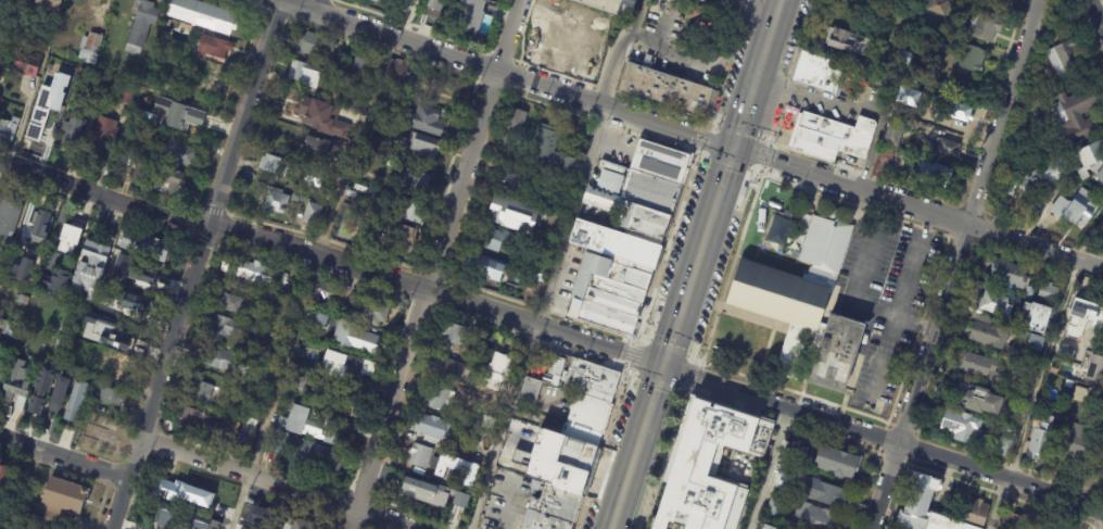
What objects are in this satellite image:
building: (97, 1)
building: (375, 1)
road: (1034, 1)
road: (292, 2)
building: (404, 2)
building: (608, 4)
parking garage: (608, 4)
building: (49, 5)
road: (312, 5)
building: (937, 7)
building: (433, 8)
road: (745, 10)
road: (1094, 13)
building: (203, 16)
building: (130, 18)
building: (470, 20)
building: (167, 23)
building: (141, 26)
building: (986, 26)
road: (772, 30)
building: (578, 32)
building: (927, 32)
building: (71, 33)
building: (846, 41)
building: (214, 47)
building: (317, 47)
building: (90, 48)
building: (55, 49)
building: (64, 51)
building: (905, 59)
building: (968, 59)
building: (1065, 59)
building: (365, 61)
building: (111, 64)
building: (25, 68)
road: (504, 71)
building: (817, 71)
building: (397, 73)
building: (305, 75)
building: (913, 75)
building: (136, 79)
building: (94, 84)
building: (78, 85)
building: (662, 89)
building: (852, 89)
building: (334, 95)
building: (128, 96)
building: (417, 97)
building: (911, 99)
road: (816, 100)
road: (747, 103)
building: (390, 104)
building: (962, 113)
building: (1077, 114)
building: (321, 117)
building: (423, 119)
building: (186, 125)
building: (132, 126)
building: (514, 127)
building: (73, 129)
building: (8, 130)
building: (893, 134)
building: (831, 135)
road: (958, 137)
building: (103, 138)
building: (35, 139)
traffic signals: (734, 144)
building: (424, 147)
building: (920, 147)
building: (546, 148)
building: (948, 149)
building: (317, 150)
building: (176, 154)
building: (905, 155)
building: (1093, 160)
building: (883, 163)
building: (274, 166)
building: (567, 166)
building: (611, 167)
building: (931, 175)
building: (1045, 179)
building: (314, 181)
road: (722, 181)
building: (170, 184)
building: (413, 185)
building: (509, 185)
building: (300, 191)
road: (103, 193)
building: (295, 199)
building: (303, 200)
building: (277, 202)
building: (567, 206)
road: (918, 206)
building: (406, 209)
building: (1077, 210)
building: (313, 215)
building: (514, 216)
building: (9, 218)
building: (1099, 221)
building: (39, 224)
building: (340, 227)
building: (776, 231)
building: (395, 236)
building: (71, 240)
building: (623, 240)
building: (497, 241)
building: (130, 243)
building: (153, 248)
road: (701, 251)
building: (123, 257)
road: (555, 263)
road: (194, 264)
road: (433, 264)
railway: (708, 264)
road: (955, 264)
building: (47, 268)
building: (91, 268)
building: (485, 268)
building: (15, 269)
building: (246, 270)
building: (144, 275)
building: (1011, 275)
building: (791, 279)
building: (53, 280)
road: (308, 282)
building: (107, 286)
road: (438, 291)
building: (325, 292)
building: (1030, 294)
building: (1049, 294)
building: (23, 300)
building: (102, 304)
building: (230, 304)
building: (994, 305)
building: (340, 307)
road: (875, 307)
building: (134, 308)
building: (1081, 310)
building: (376, 314)
building: (312, 319)
building: (318, 319)
building: (1039, 319)
road: (679, 325)
building: (1012, 325)
road: (914, 326)
building: (226, 328)
building: (63, 329)
building: (7, 330)
building: (102, 331)
building: (1075, 331)
building: (989, 335)
building: (454, 336)
building: (125, 340)
building: (1091, 341)
building: (60, 343)
building: (367, 343)
building: (1036, 343)
building: (275, 356)
building: (838, 356)
road: (883, 357)
building: (505, 358)
building: (1082, 358)
building: (480, 362)
building: (227, 364)
building: (308, 364)
building: (33, 366)
building: (274, 366)
traffic signals: (665, 367)
building: (981, 367)
building: (115, 368)
building: (446, 369)
building: (1055, 369)
building: (52, 370)
building: (353, 370)
building: (554, 370)
building: (1095, 370)
building: (1, 373)
building: (589, 379)
building: (16, 383)
building: (304, 383)
building: (447, 383)
building: (1070, 386)
building: (502, 387)
building: (40, 391)
building: (200, 391)
building: (531, 391)
building: (58, 394)
building: (109, 395)
building: (233, 395)
road: (1034, 395)
building: (1081, 395)
building: (976, 396)
building: (438, 400)
building: (75, 401)
building: (231, 404)
building: (14, 405)
building: (344, 406)
building: (56, 410)
road: (651, 410)
building: (586, 412)
building: (38, 413)
building: (485, 424)
building: (73, 425)
building: (962, 425)
building: (206, 426)
building: (314, 427)
building: (434, 431)
building: (579, 432)
building: (248, 436)
road: (885, 438)
building: (277, 441)
building: (483, 443)
building: (1042, 443)
building: (1079, 443)
road: (65, 450)
building: (797, 451)
building: (1005, 451)
building: (462, 456)
building: (320, 457)
building: (422, 458)
building: (838, 465)
building: (711, 467)
road: (766, 467)
building: (4, 479)
building: (471, 482)
road: (277, 483)
building: (786, 486)
building: (536, 488)
building: (408, 489)
road: (625, 490)
building: (169, 492)
building: (824, 494)
building: (63, 500)
building: (461, 500)
building: (920, 501)
building: (776, 506)
building: (554, 509)
building: (253, 514)
building: (160, 518)
building: (816, 518)
building: (202, 522)
building: (1011, 524)
building: (299, 525)
building: (766, 528)

